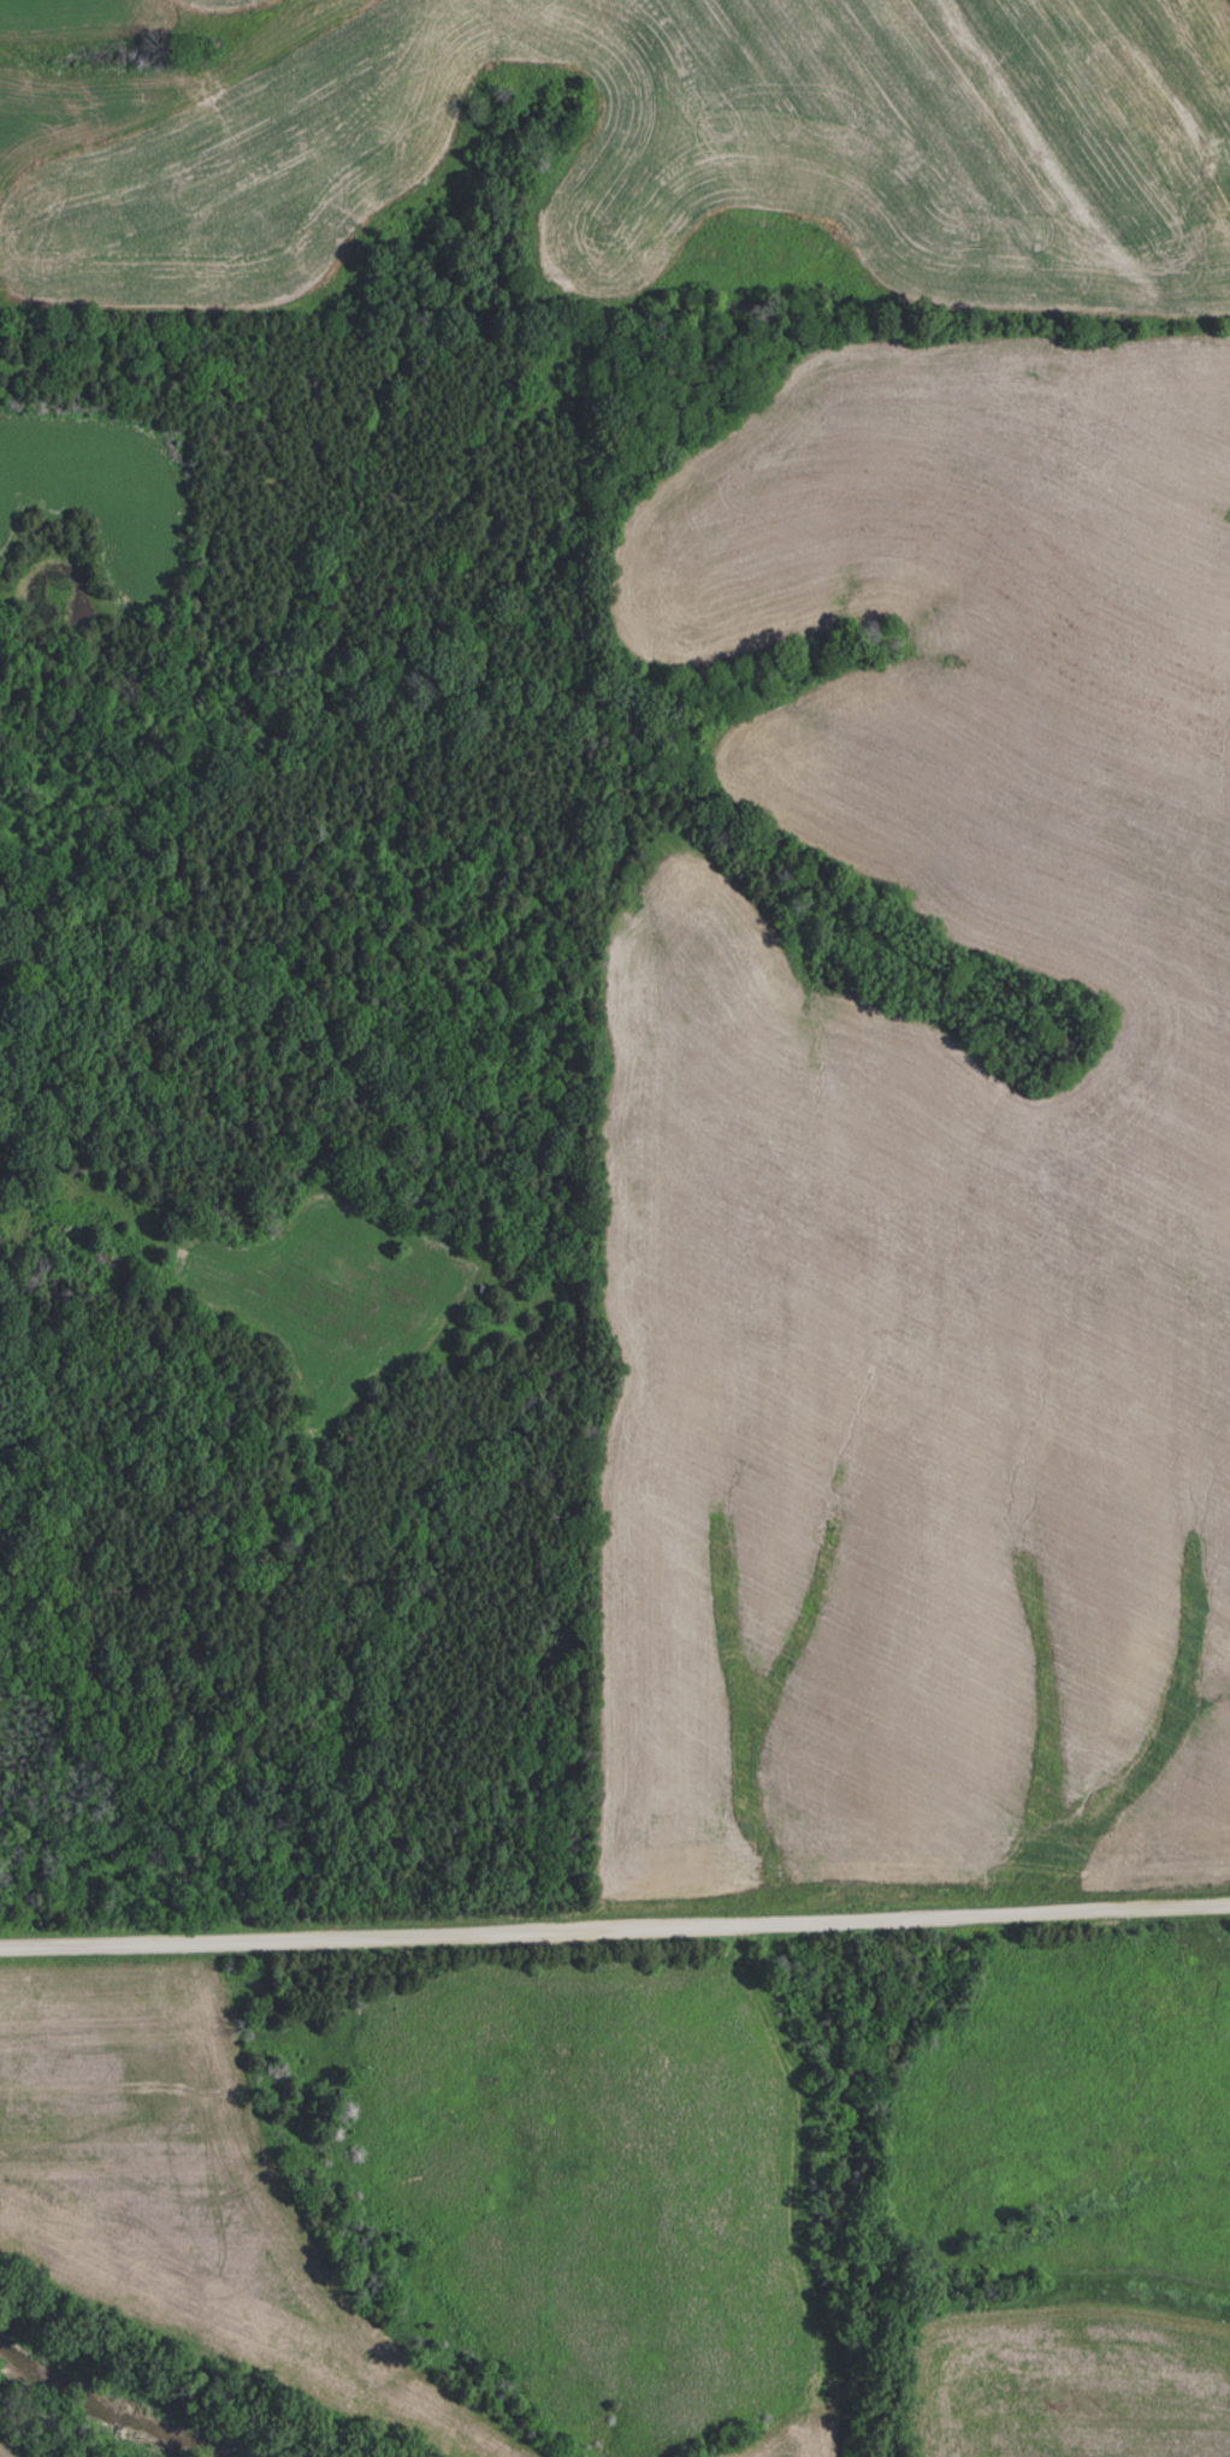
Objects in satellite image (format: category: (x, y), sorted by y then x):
road: (615, 1925)

